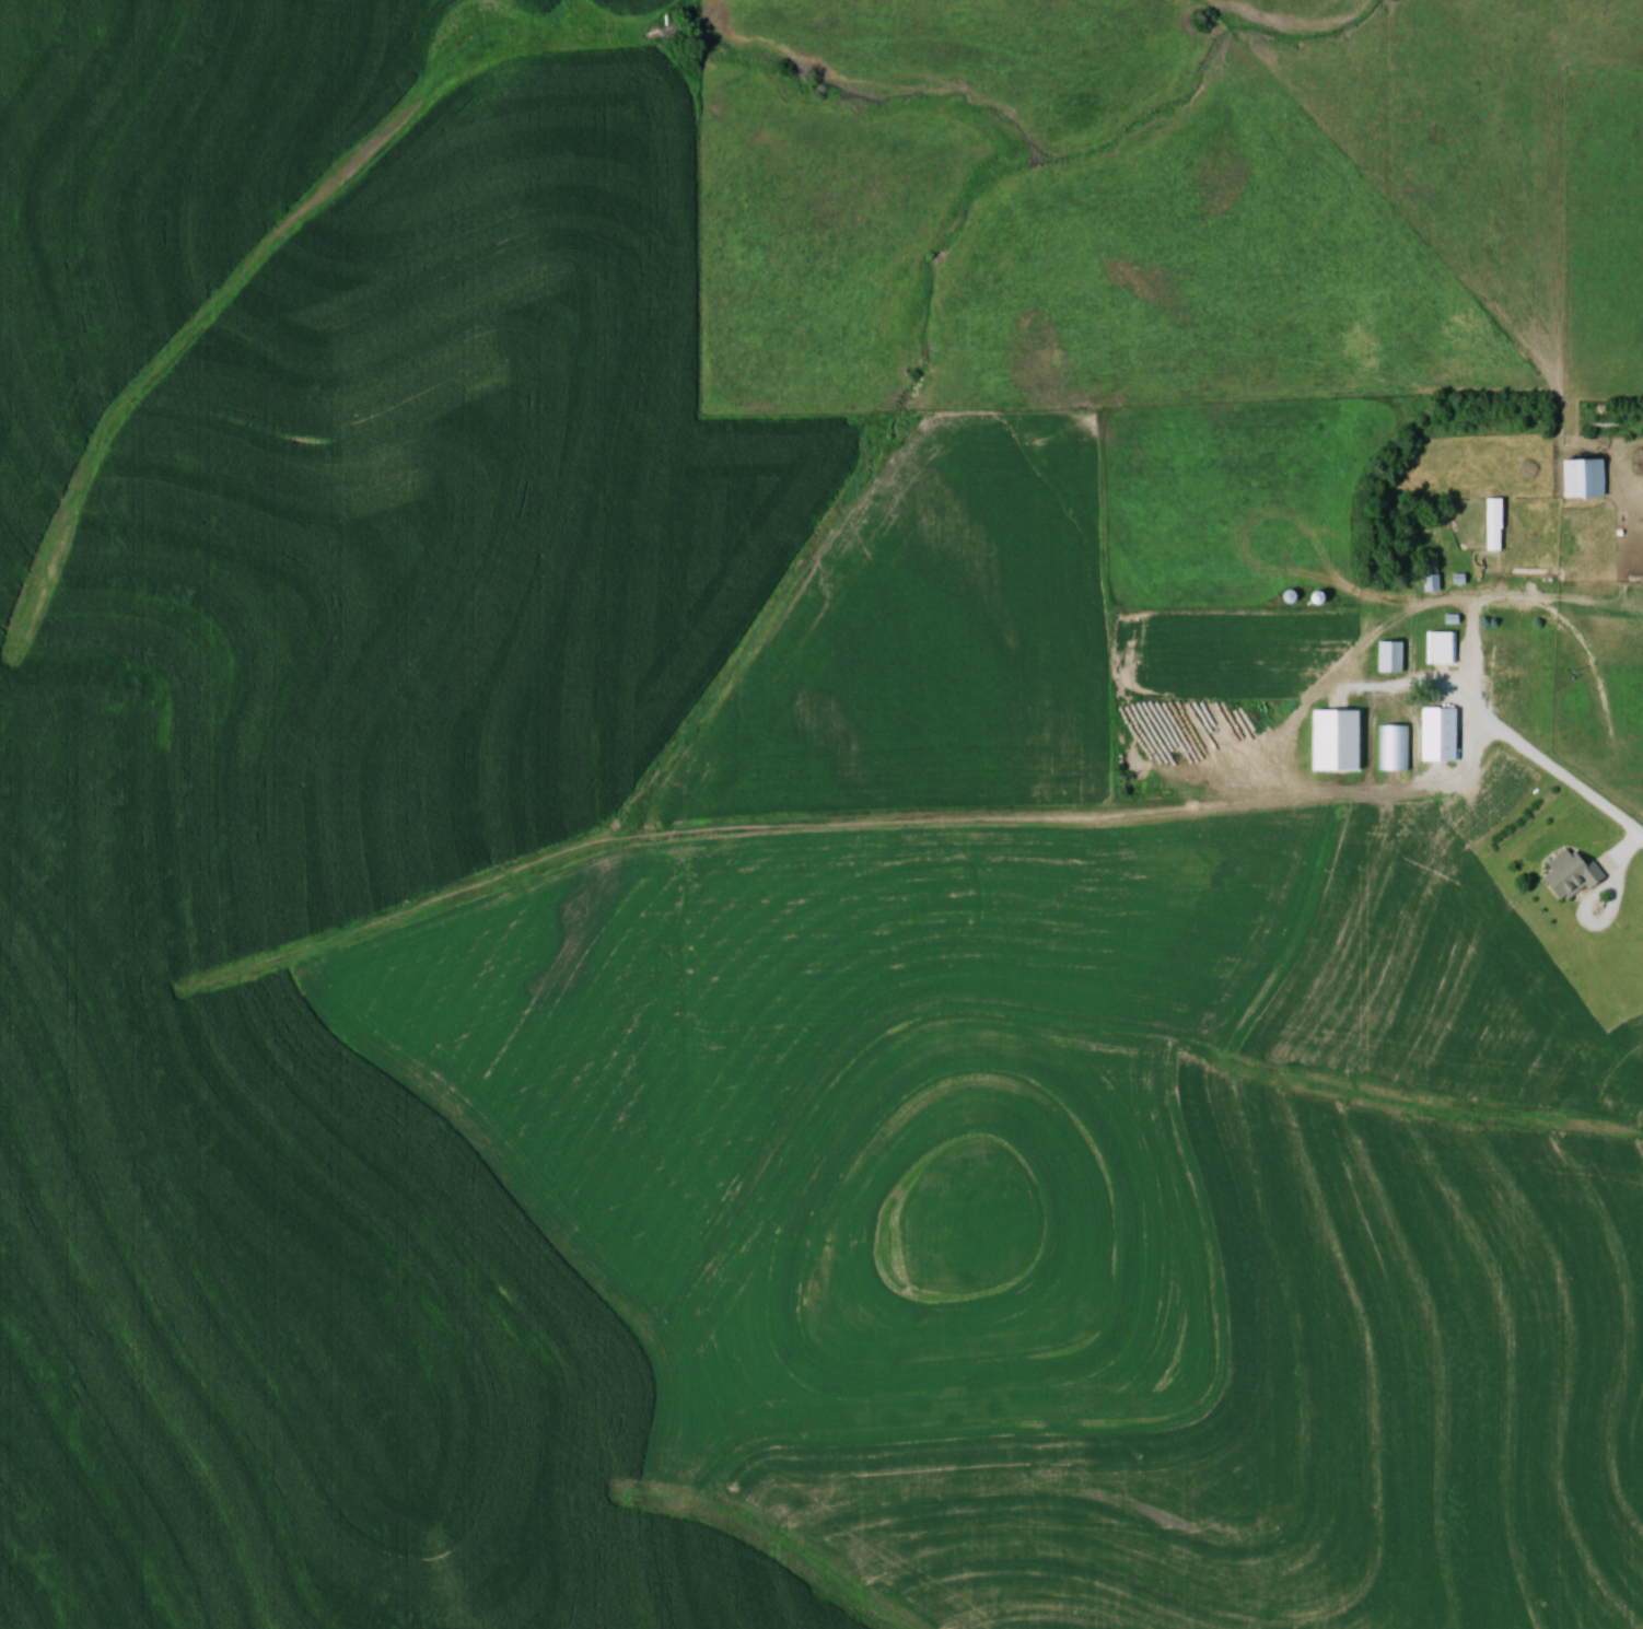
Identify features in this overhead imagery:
building: (1586, 478)
building: (1496, 523)
building: (1441, 648)
building: (1393, 656)
building: (1443, 734)
building: (1394, 747)
road: (1542, 761)
building: (1574, 872)

